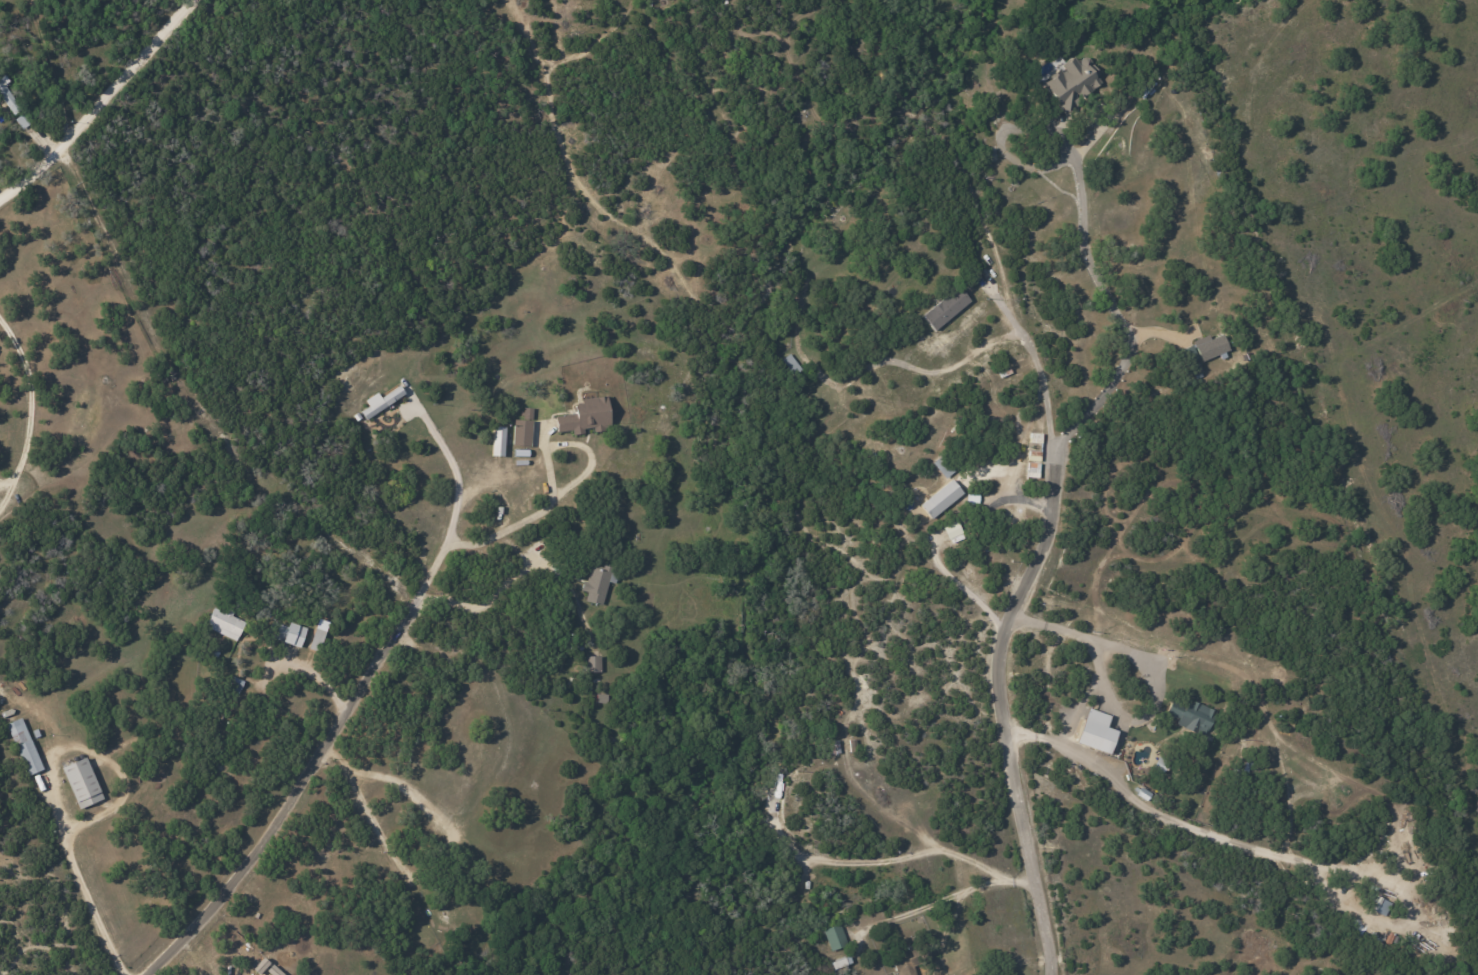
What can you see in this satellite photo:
building: (1070, 81)
building: (8, 97)
road: (100, 104)
road: (1109, 304)
building: (944, 308)
building: (1200, 351)
building: (790, 364)
road: (1036, 369)
road: (30, 398)
building: (379, 401)
road: (199, 403)
building: (584, 416)
building: (520, 432)
building: (496, 440)
road: (450, 469)
road: (6, 481)
road: (7, 493)
building: (939, 498)
road: (529, 517)
road: (939, 537)
road: (490, 594)
building: (222, 622)
building: (277, 631)
building: (293, 634)
building: (314, 639)
building: (591, 663)
road: (298, 666)
road: (1097, 680)
building: (233, 684)
road: (1156, 690)
road: (1000, 706)
building: (1189, 715)
building: (1094, 731)
building: (23, 745)
road: (301, 771)
building: (80, 782)
road: (367, 810)
road: (1223, 839)
road: (76, 879)
road: (944, 898)
building: (1378, 905)
building: (833, 936)
building: (839, 965)

